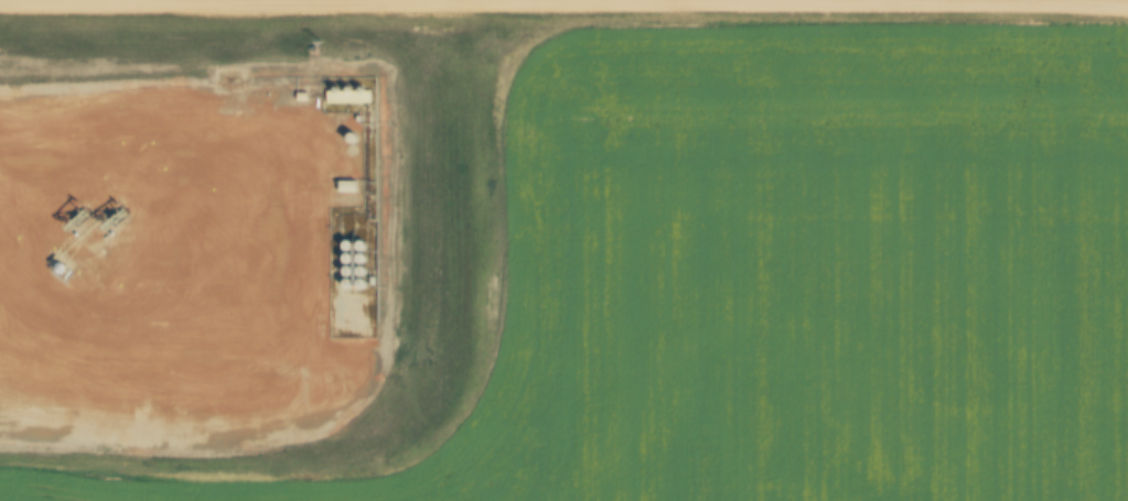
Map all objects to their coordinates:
road: (563, 3)

